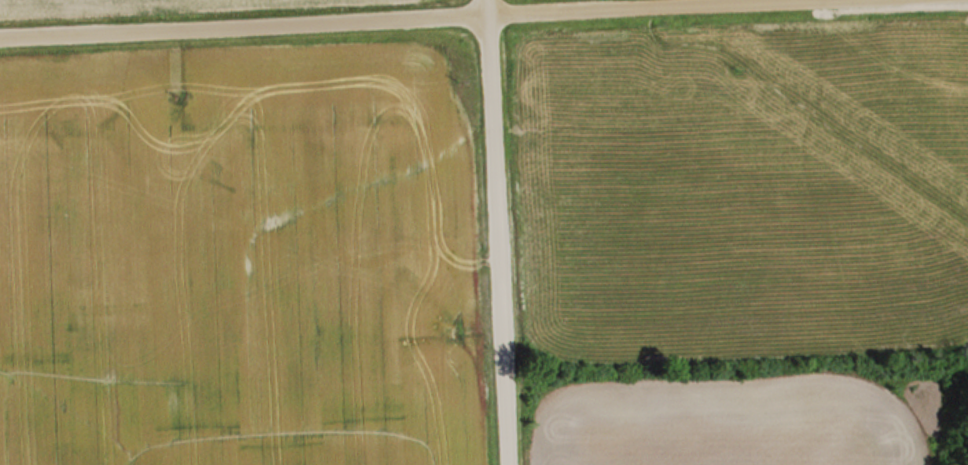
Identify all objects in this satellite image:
road: (371, 16)
road: (492, 232)

